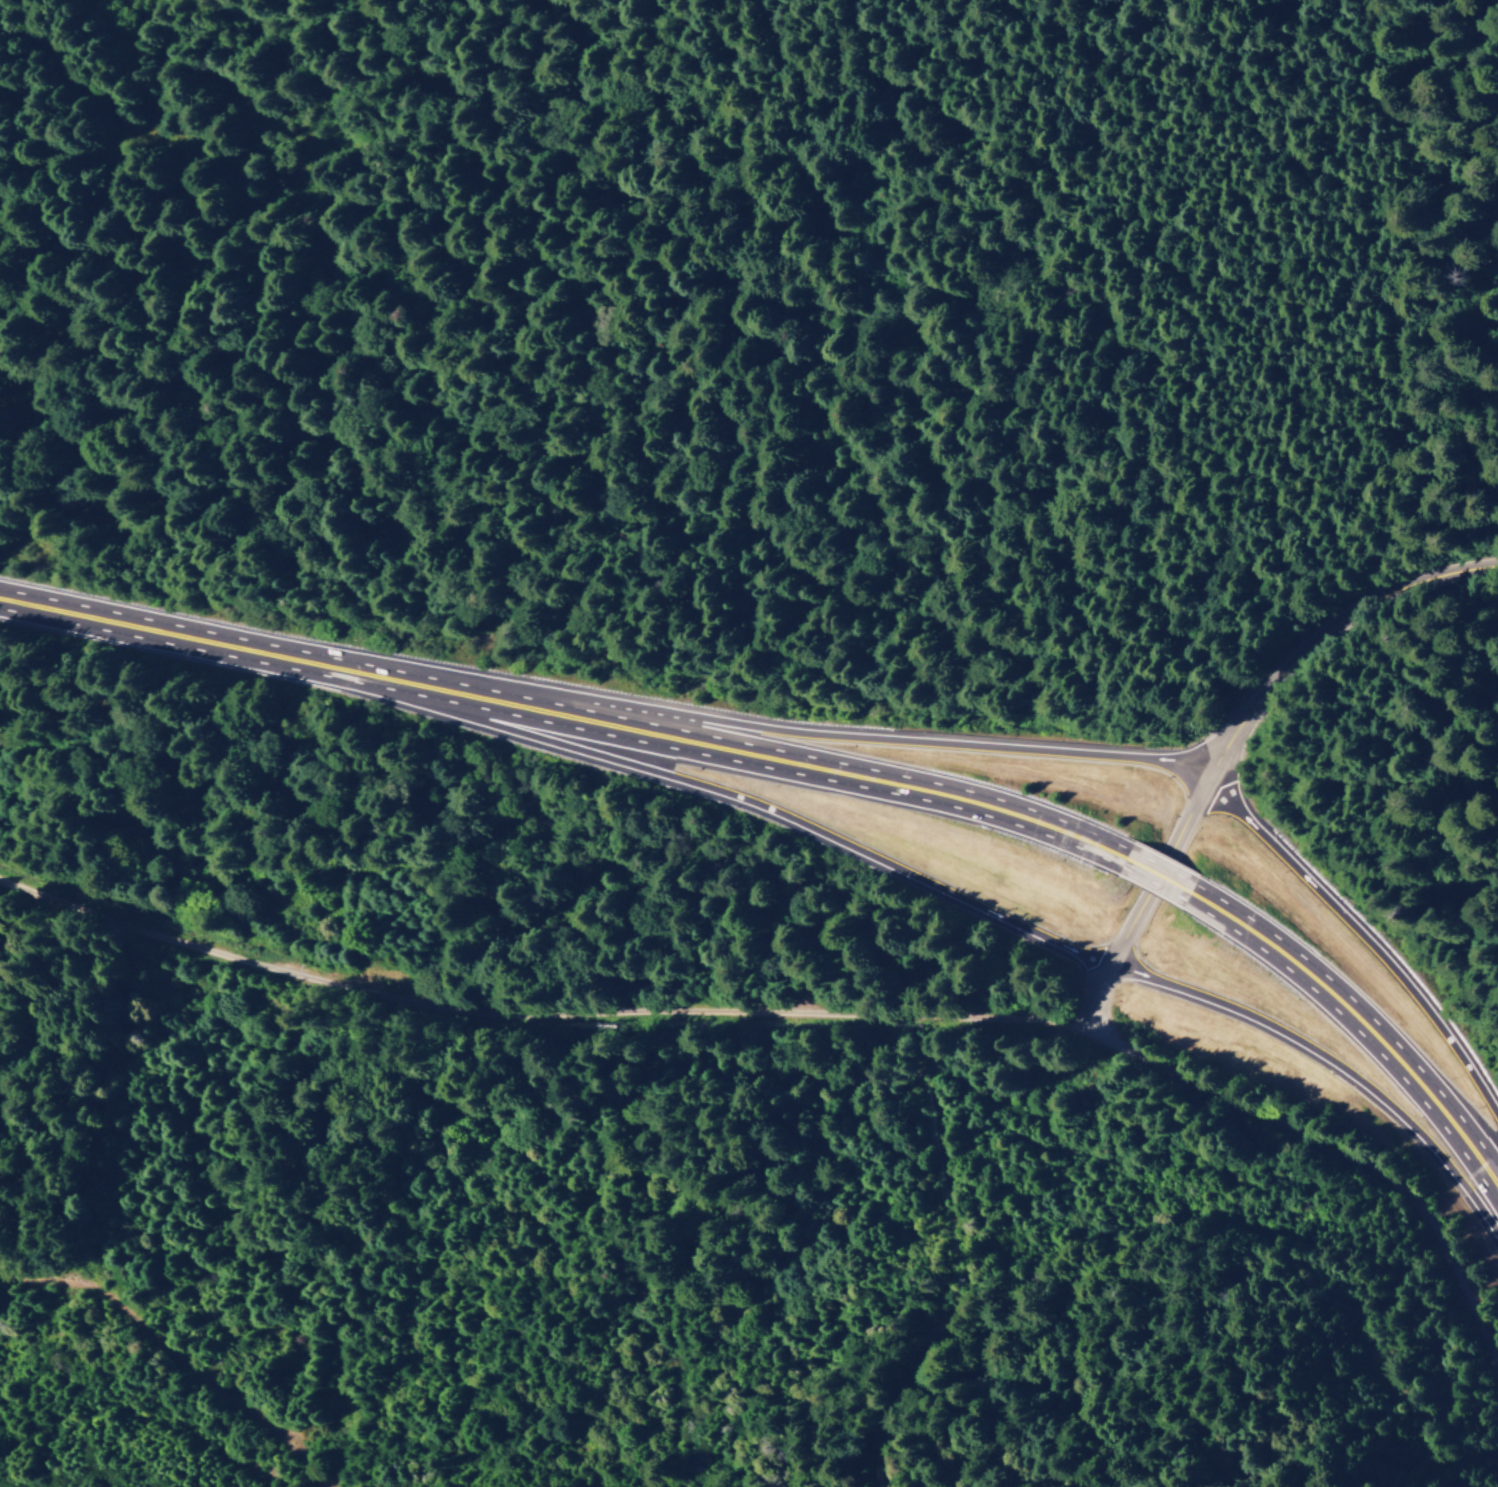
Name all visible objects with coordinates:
road: (134, 626)
road: (350, 670)
road: (1247, 692)
road: (494, 698)
road: (879, 740)
road: (842, 767)
road: (773, 815)
road: (1152, 871)
road: (1361, 936)
road: (1085, 991)
road: (810, 1012)
road: (1359, 1015)
road: (1329, 1070)
park: (1157, 1477)

